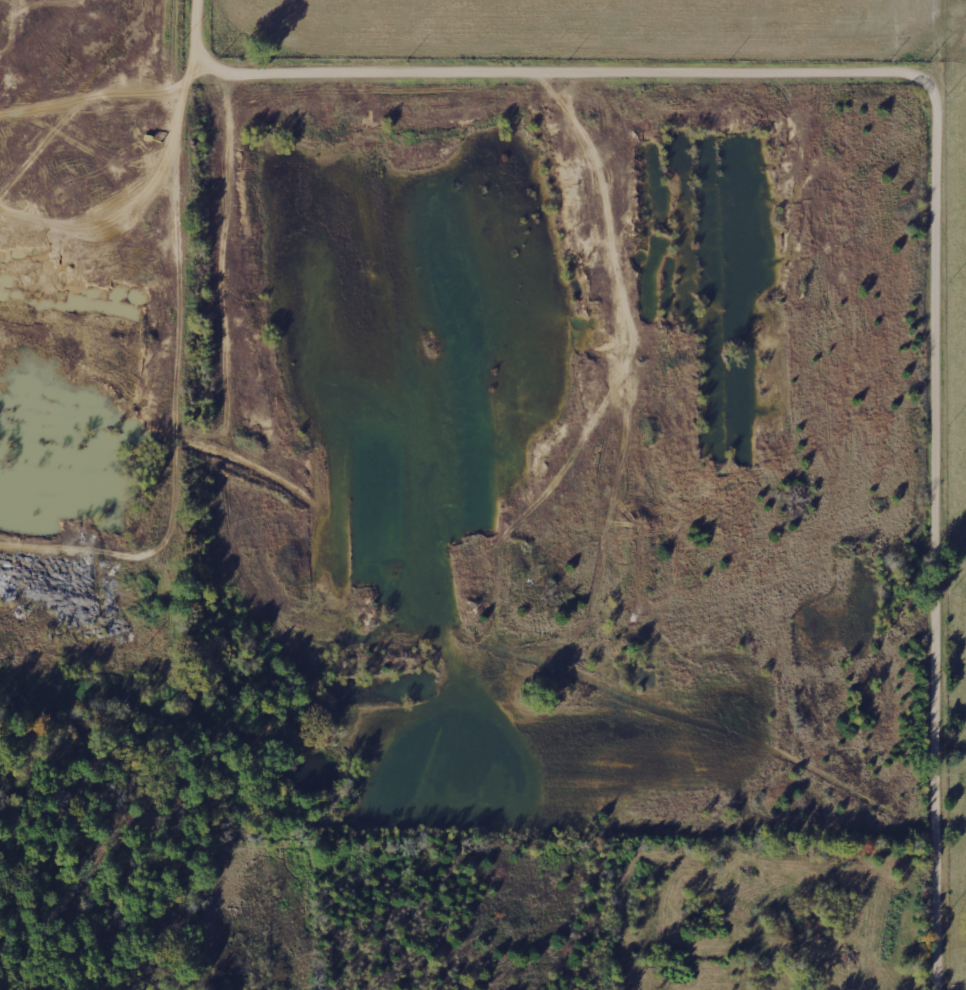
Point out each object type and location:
road: (943, 144)
road: (955, 502)

